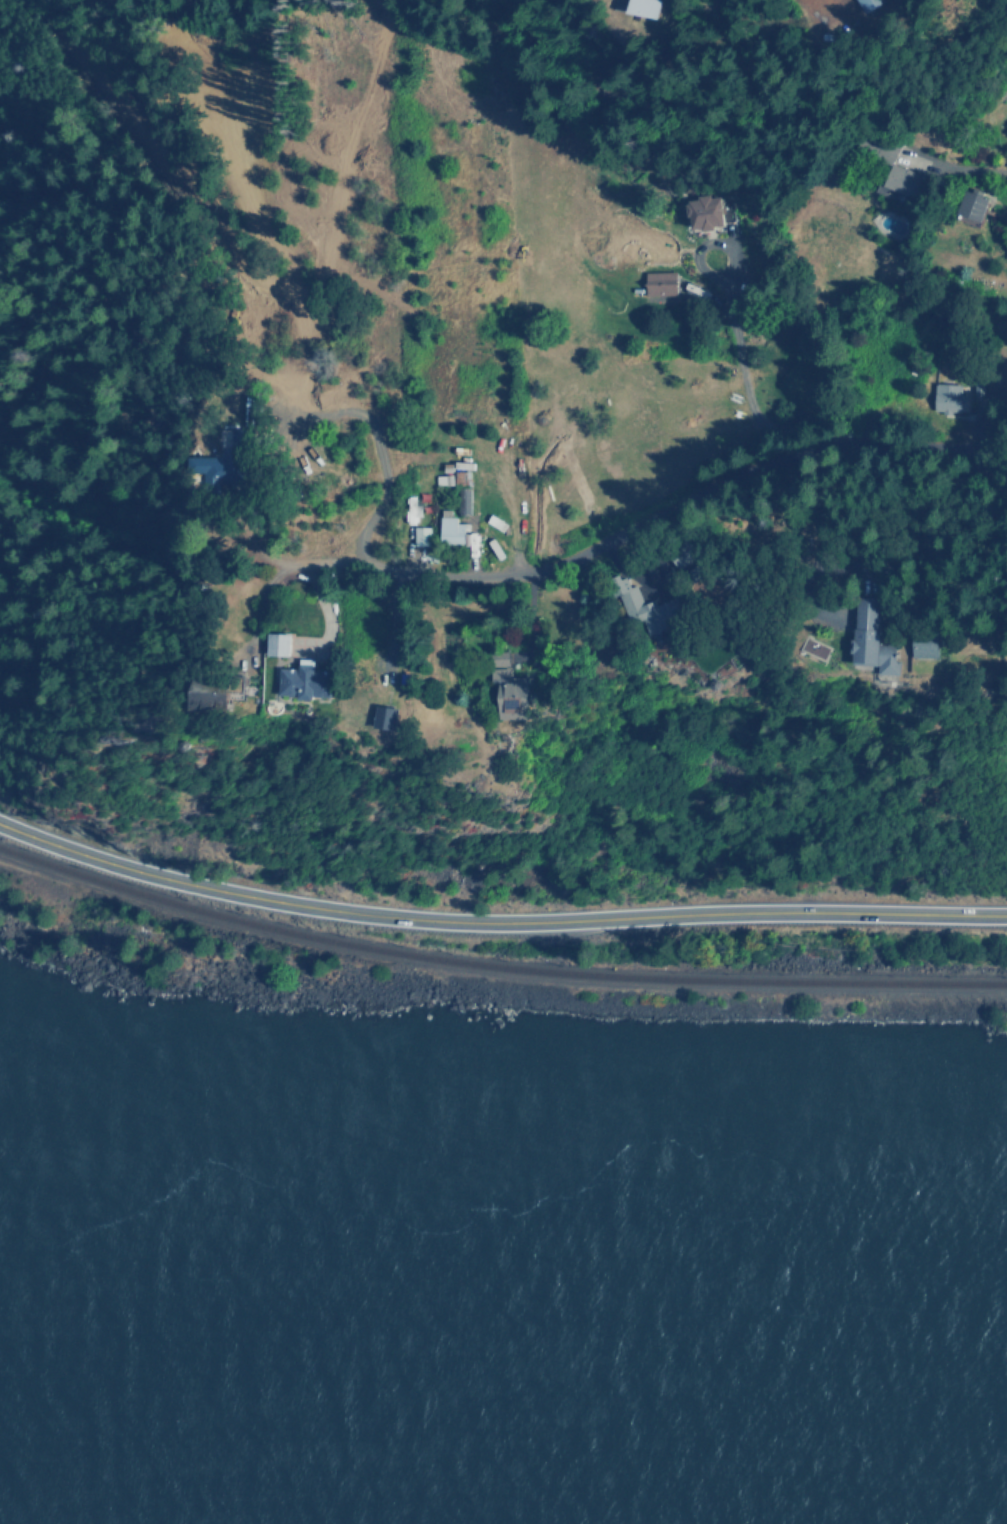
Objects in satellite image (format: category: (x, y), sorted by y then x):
road: (648, 519)
building: (303, 681)
building: (213, 700)
building: (386, 717)
railway: (160, 889)
road: (497, 921)
railway: (496, 965)

